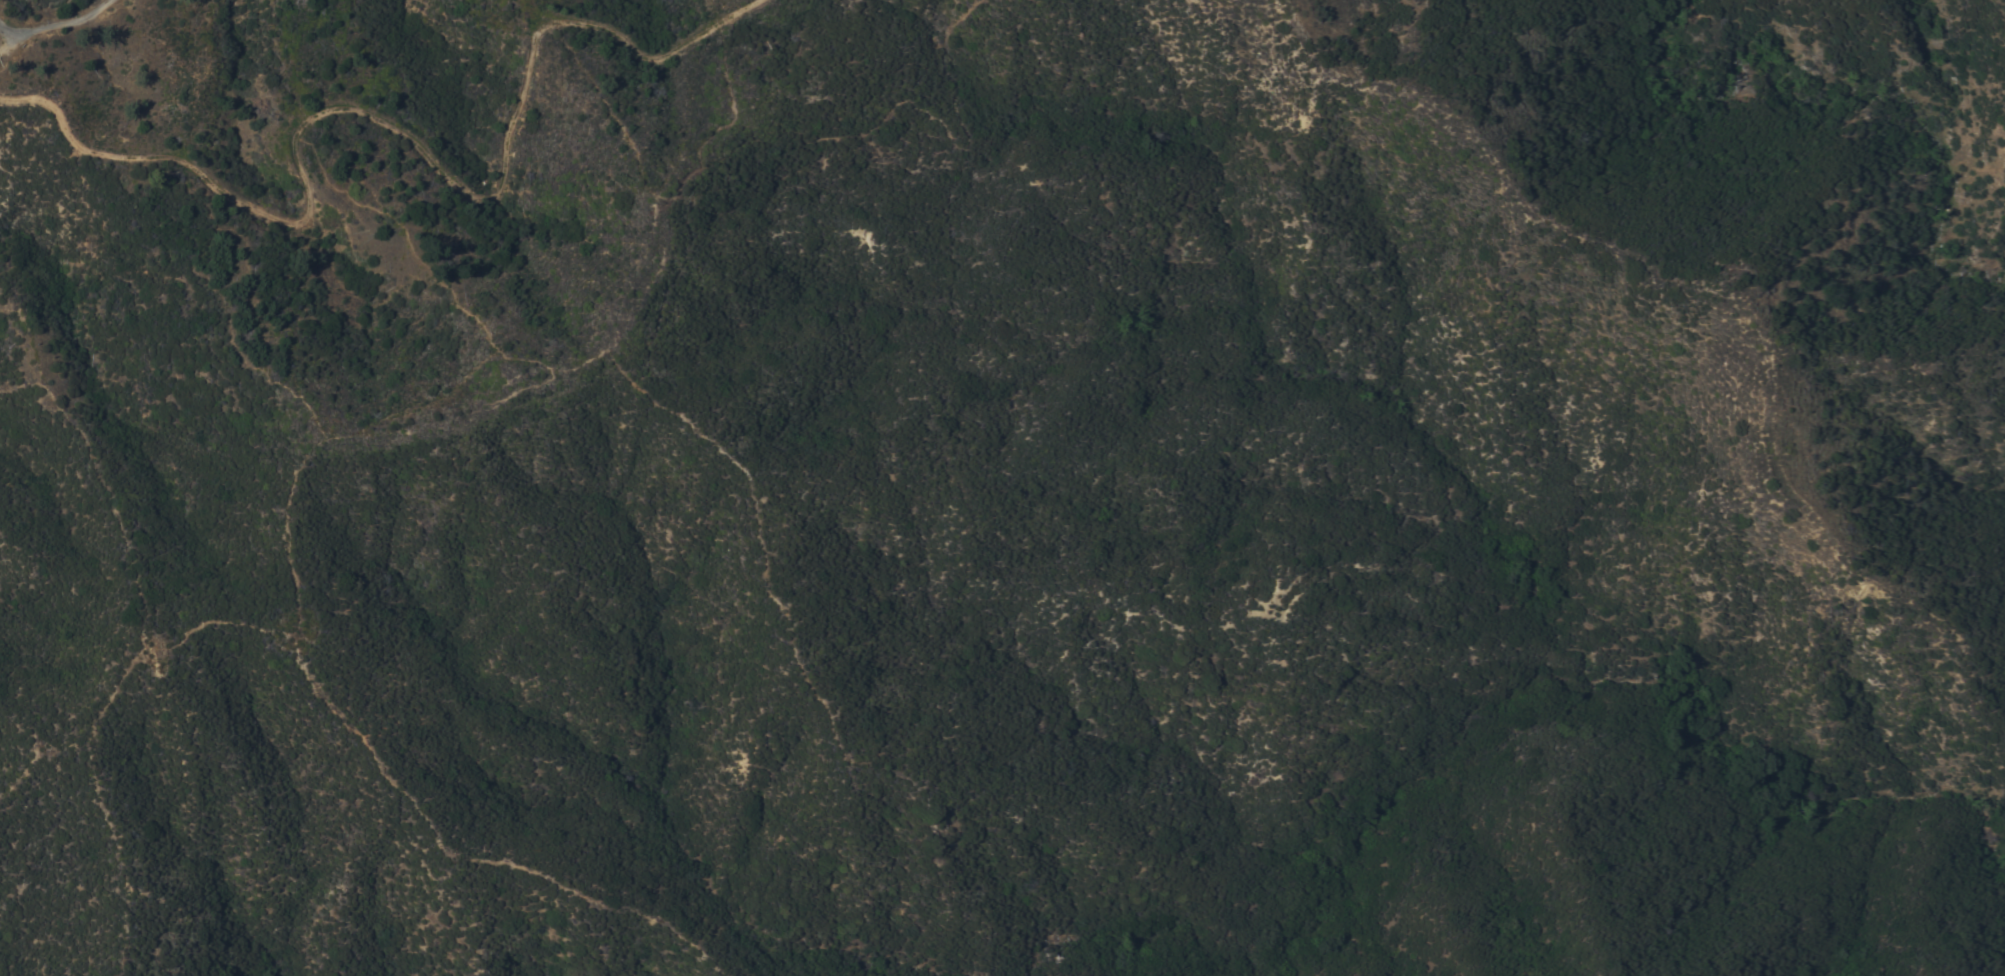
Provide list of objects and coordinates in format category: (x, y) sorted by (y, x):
road: (54, 25)
road: (7, 30)
road: (1903, 128)
road: (399, 139)
road: (1940, 353)

